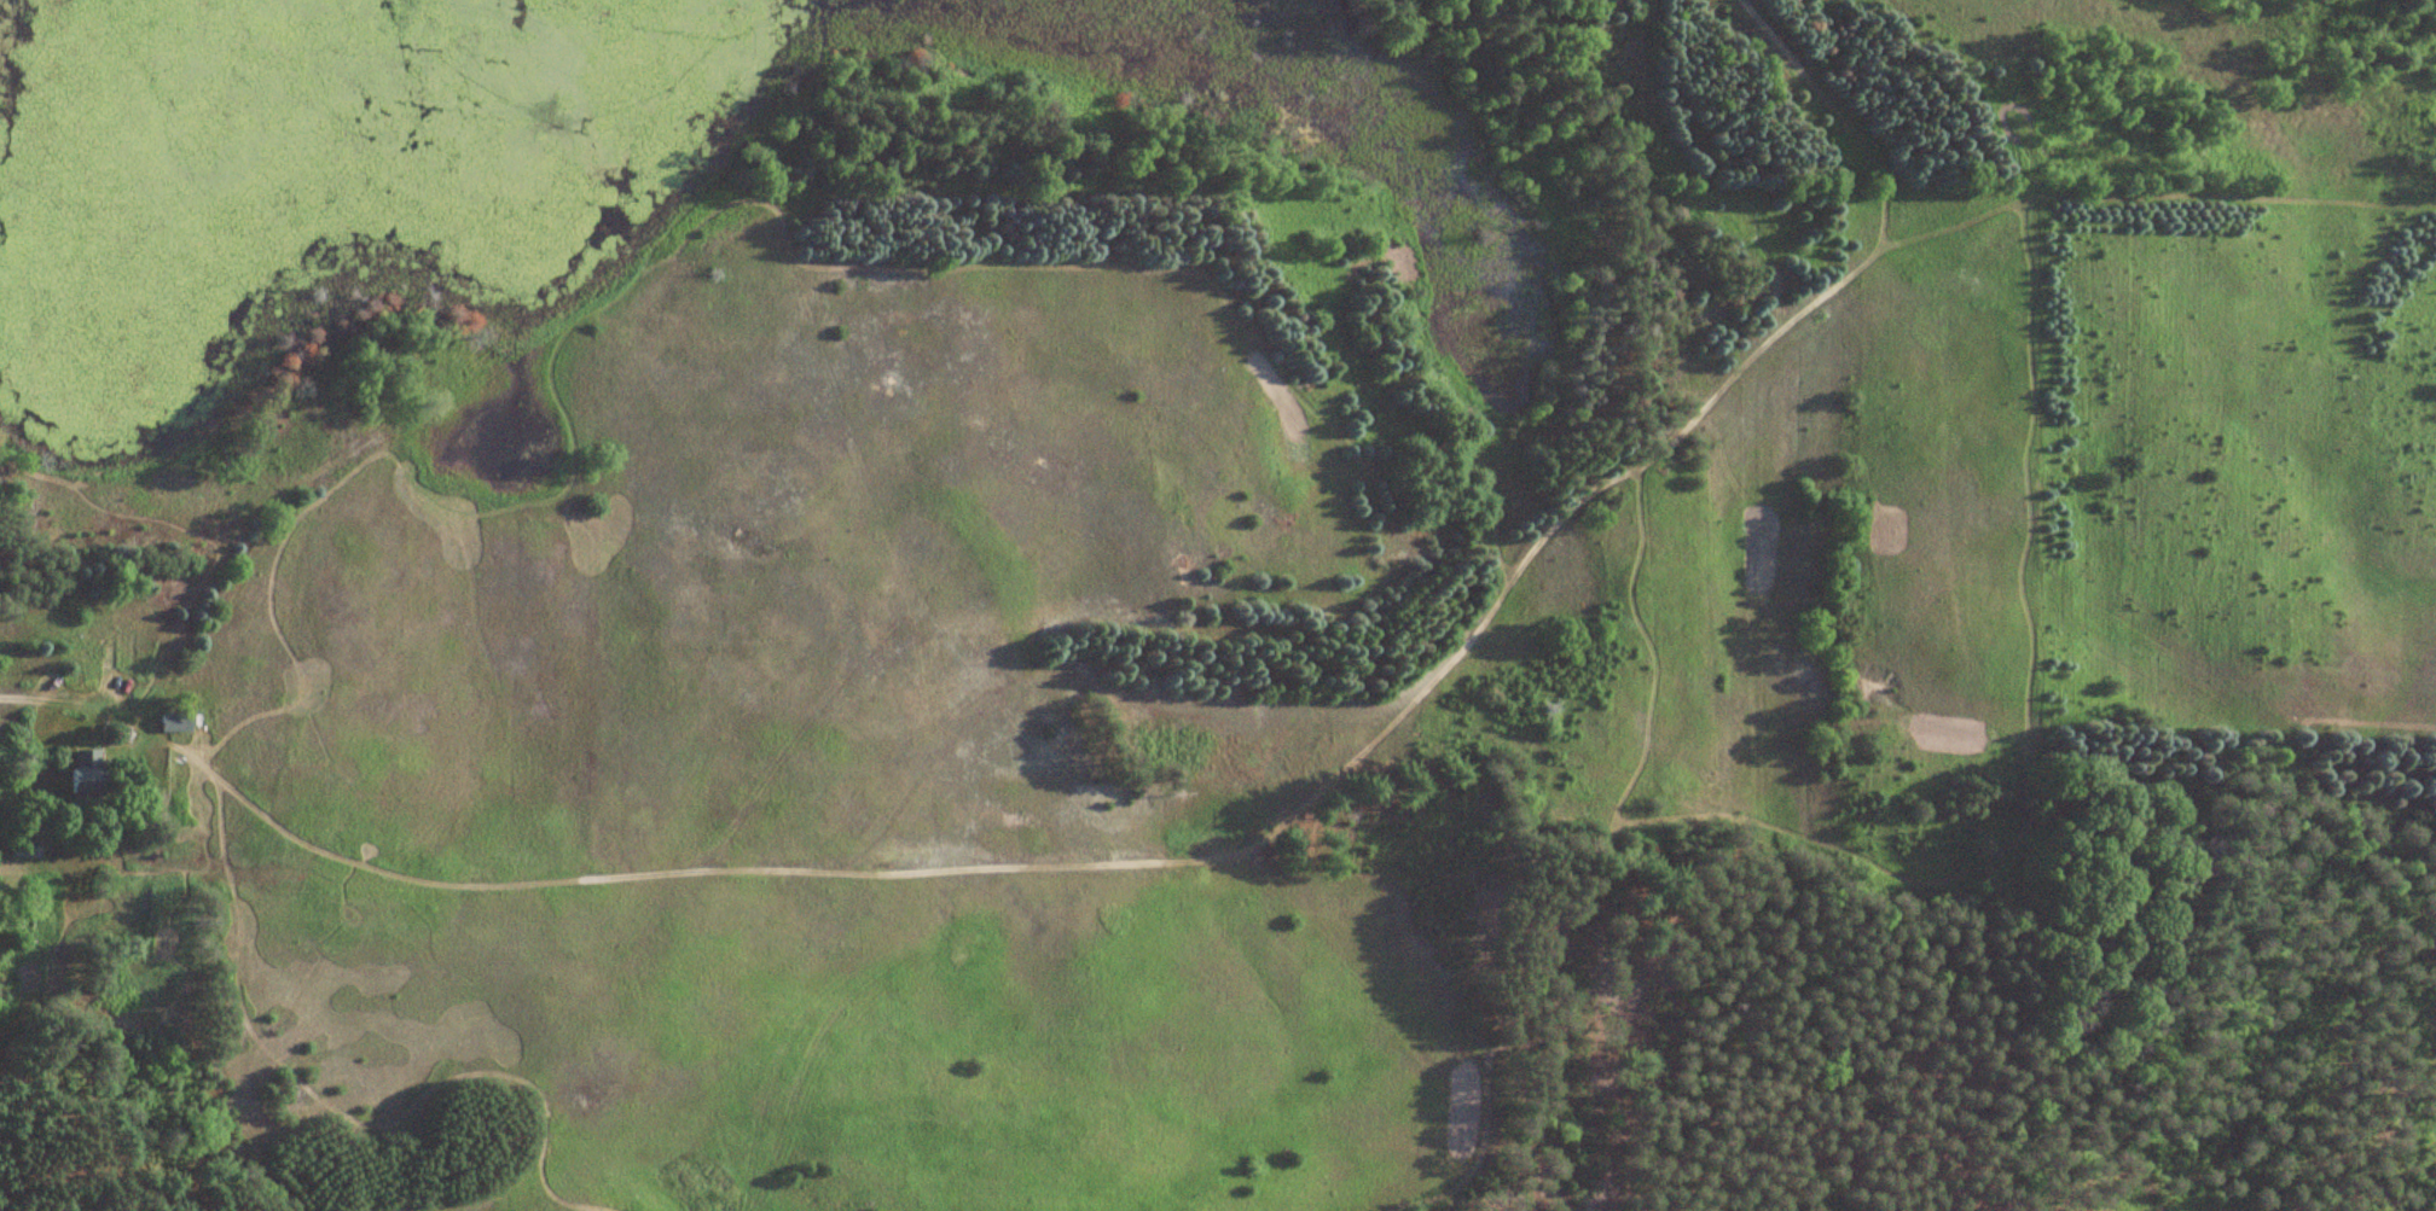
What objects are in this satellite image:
building: (178, 722)
building: (91, 774)

